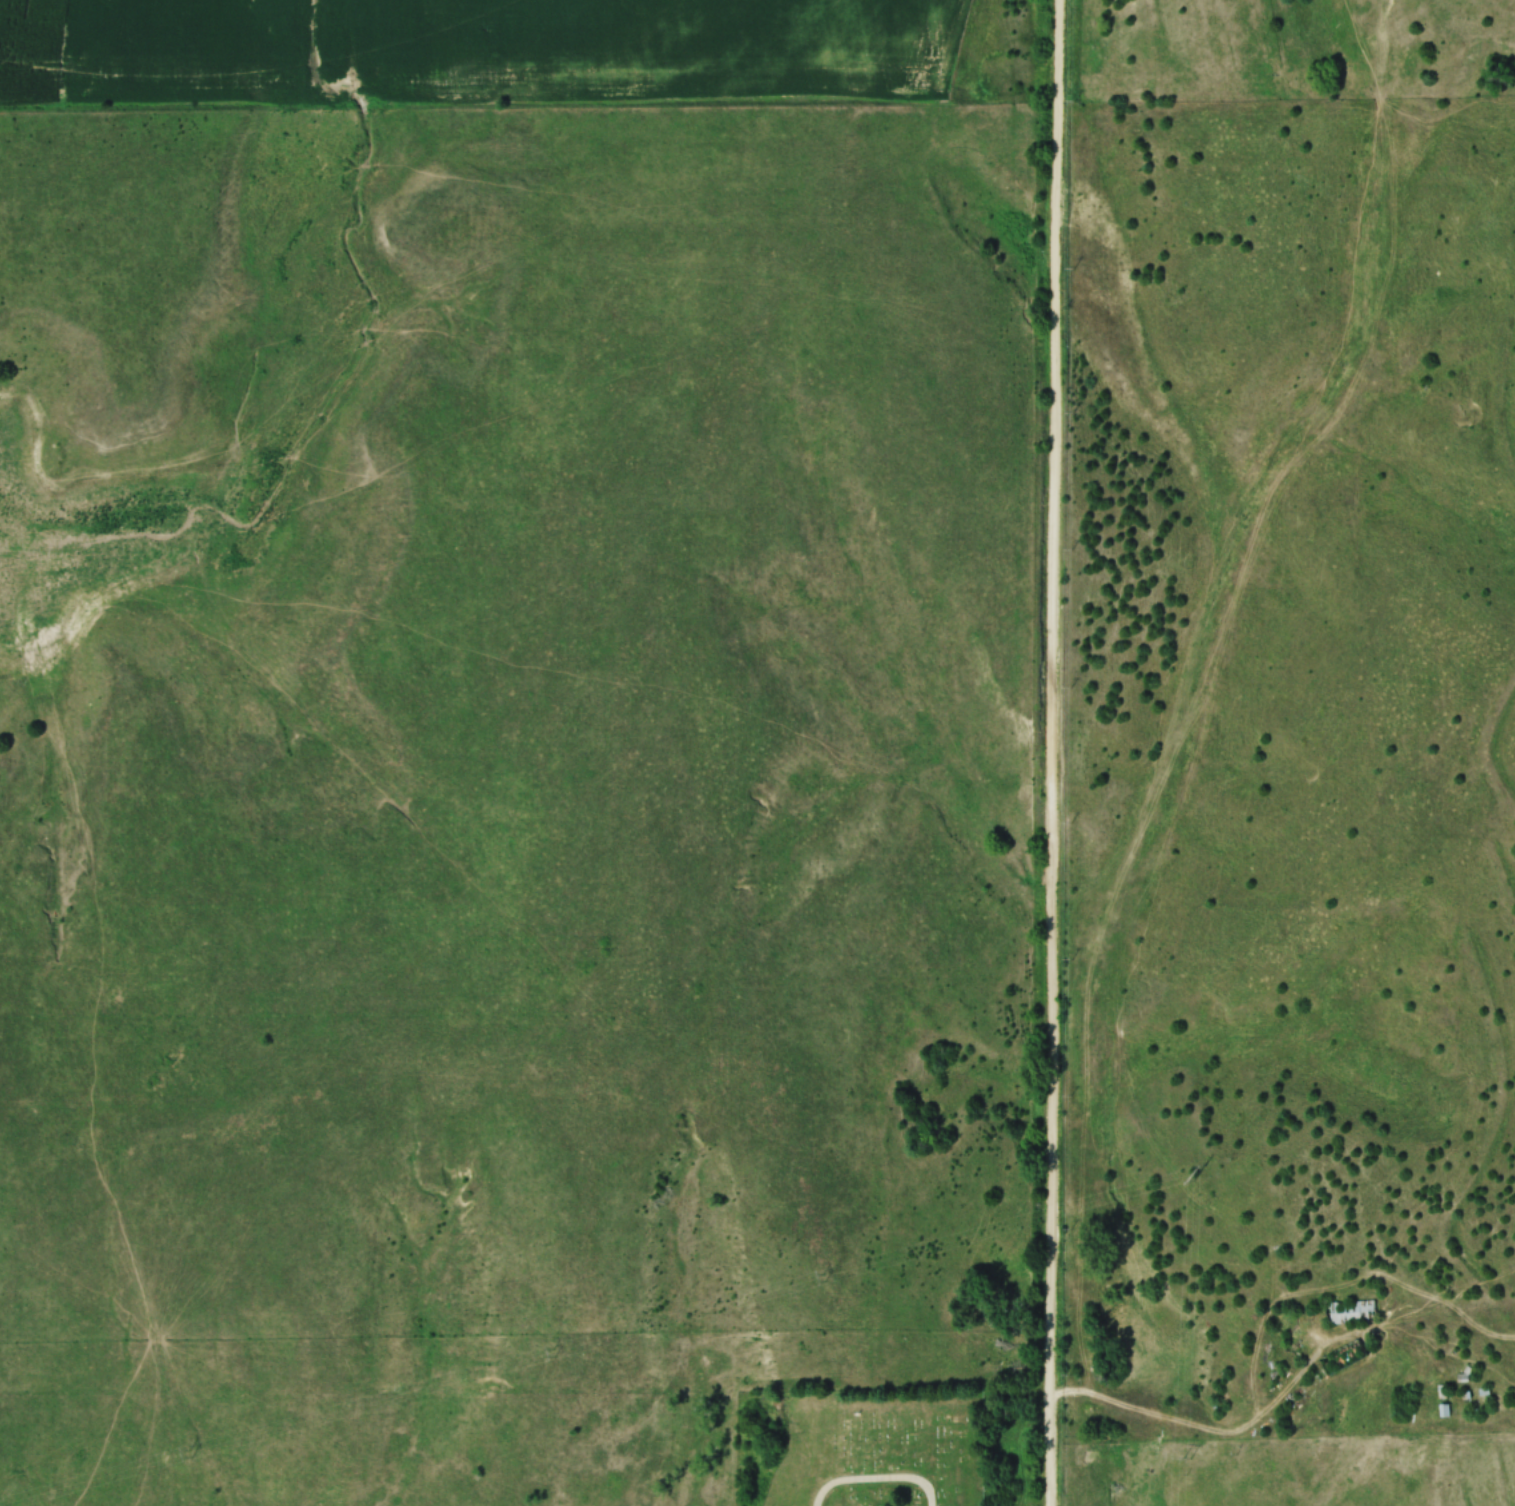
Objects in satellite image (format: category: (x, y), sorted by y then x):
road: (1054, 753)
building: (1349, 1311)
road: (1288, 1390)
road: (876, 1475)

